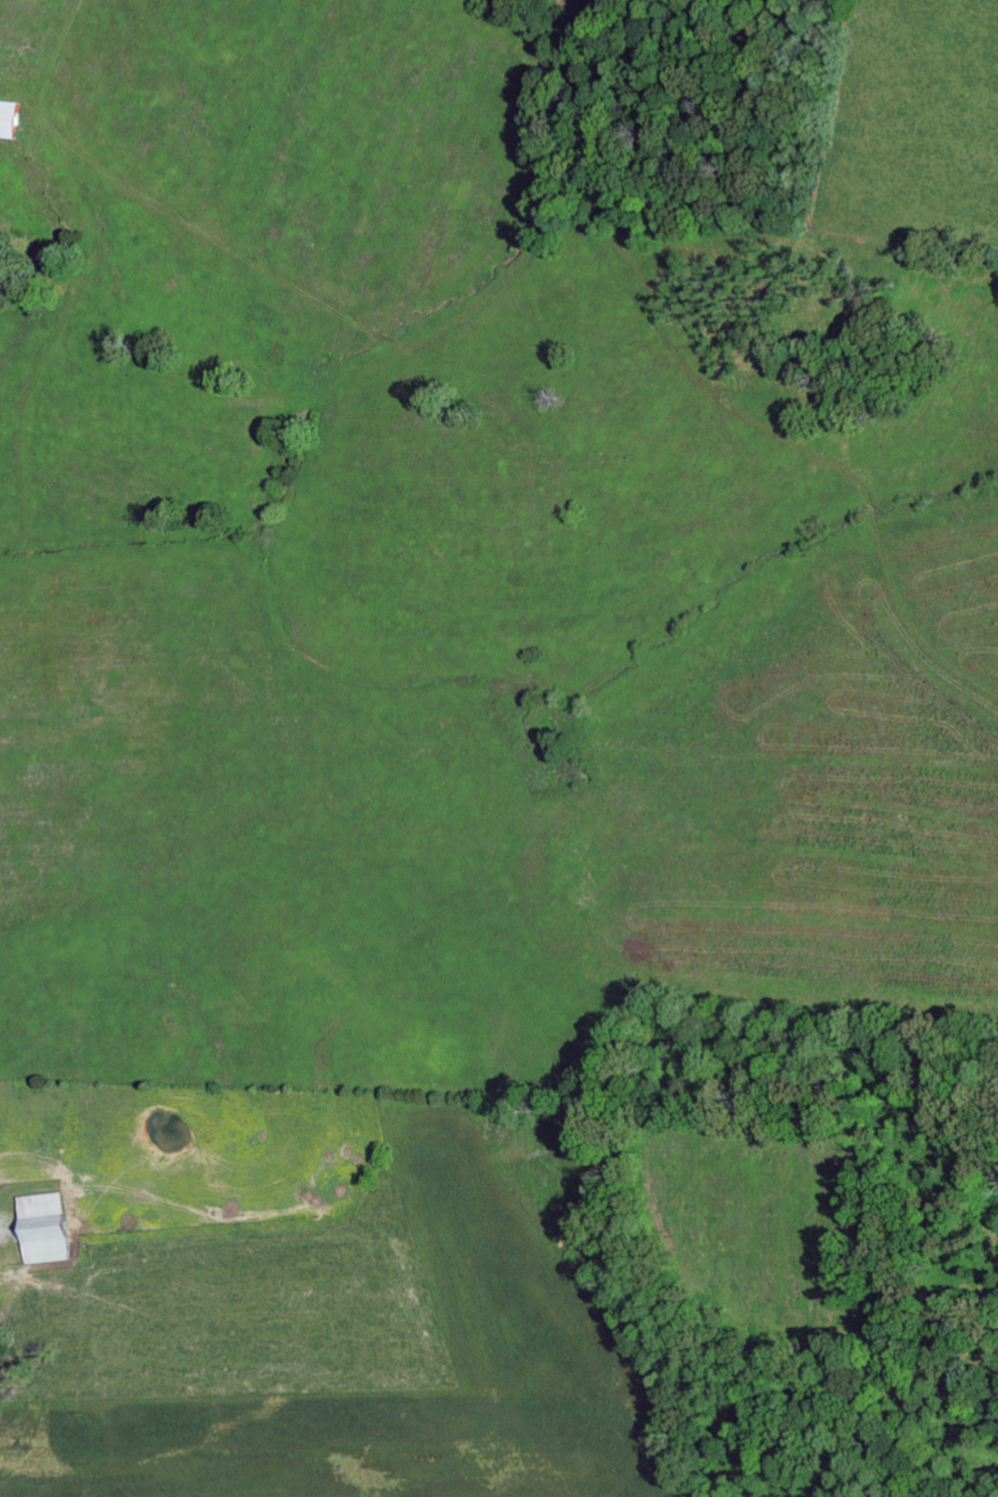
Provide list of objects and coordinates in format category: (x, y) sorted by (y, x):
building: (10, 117)
road: (867, 181)
road: (313, 1214)
building: (45, 1228)

